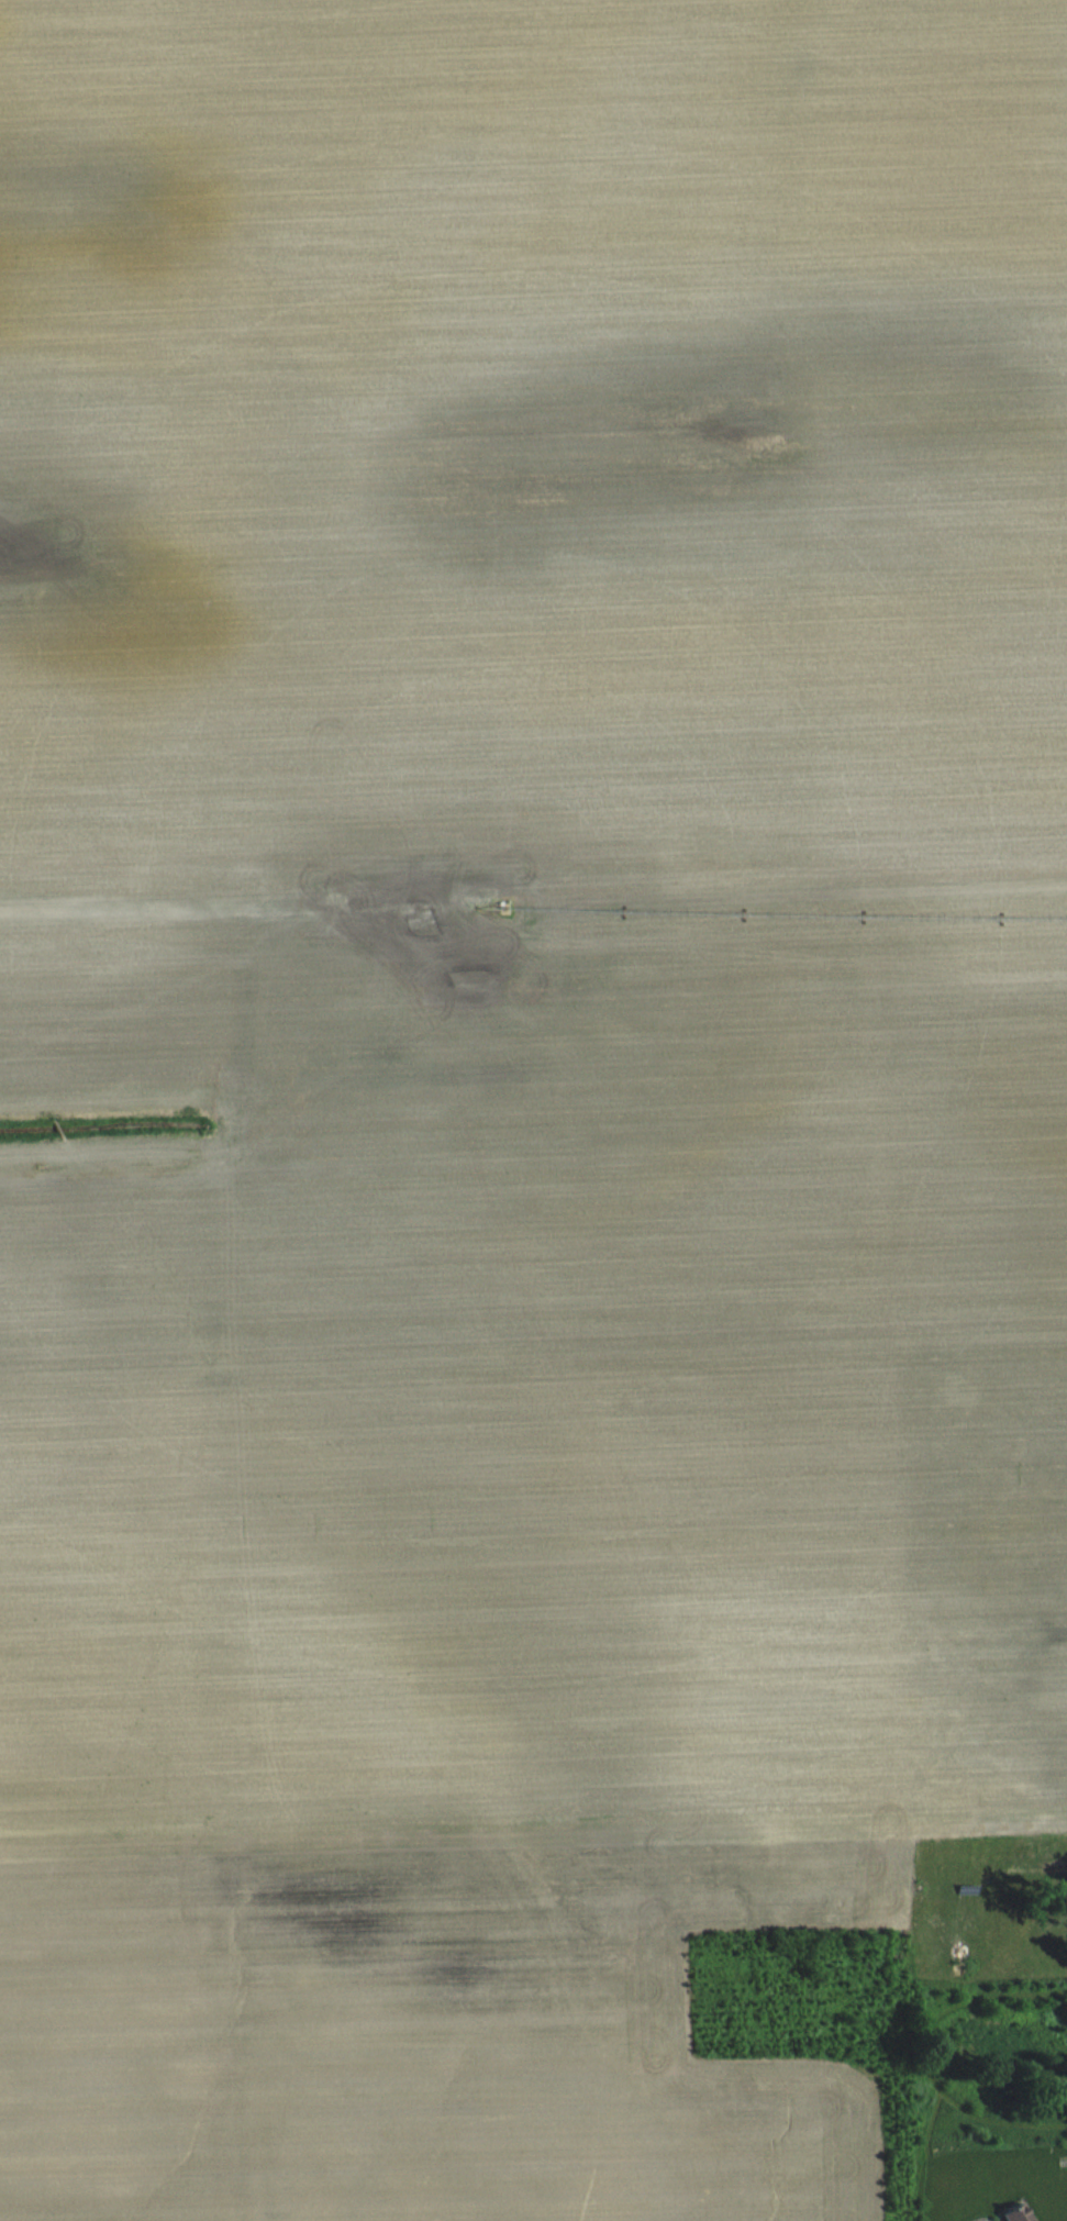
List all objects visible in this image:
building: (1013, 2212)

